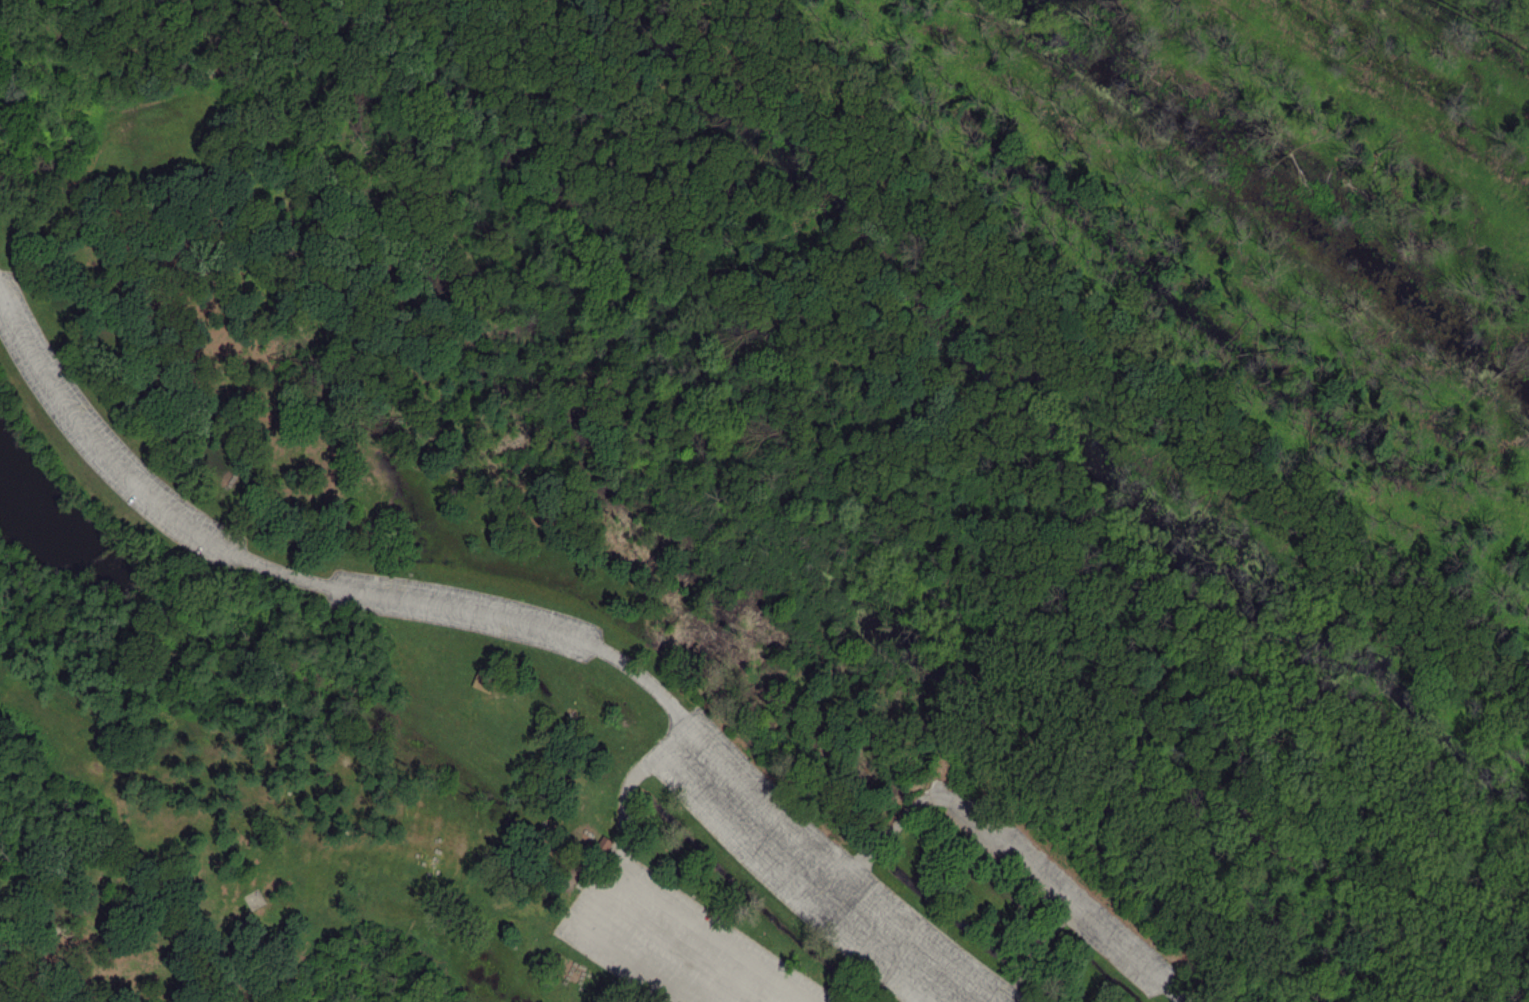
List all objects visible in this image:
parking lot: (107, 439)
road: (381, 595)
parking lot: (464, 610)
building: (482, 679)
road: (882, 839)
parking lot: (815, 869)
road: (837, 869)
road: (790, 881)
parking lot: (1061, 889)
road: (1060, 891)
road: (714, 934)
parking lot: (674, 940)
road: (603, 944)
road: (678, 948)
road: (1032, 948)
road: (1174, 991)
road: (910, 995)

